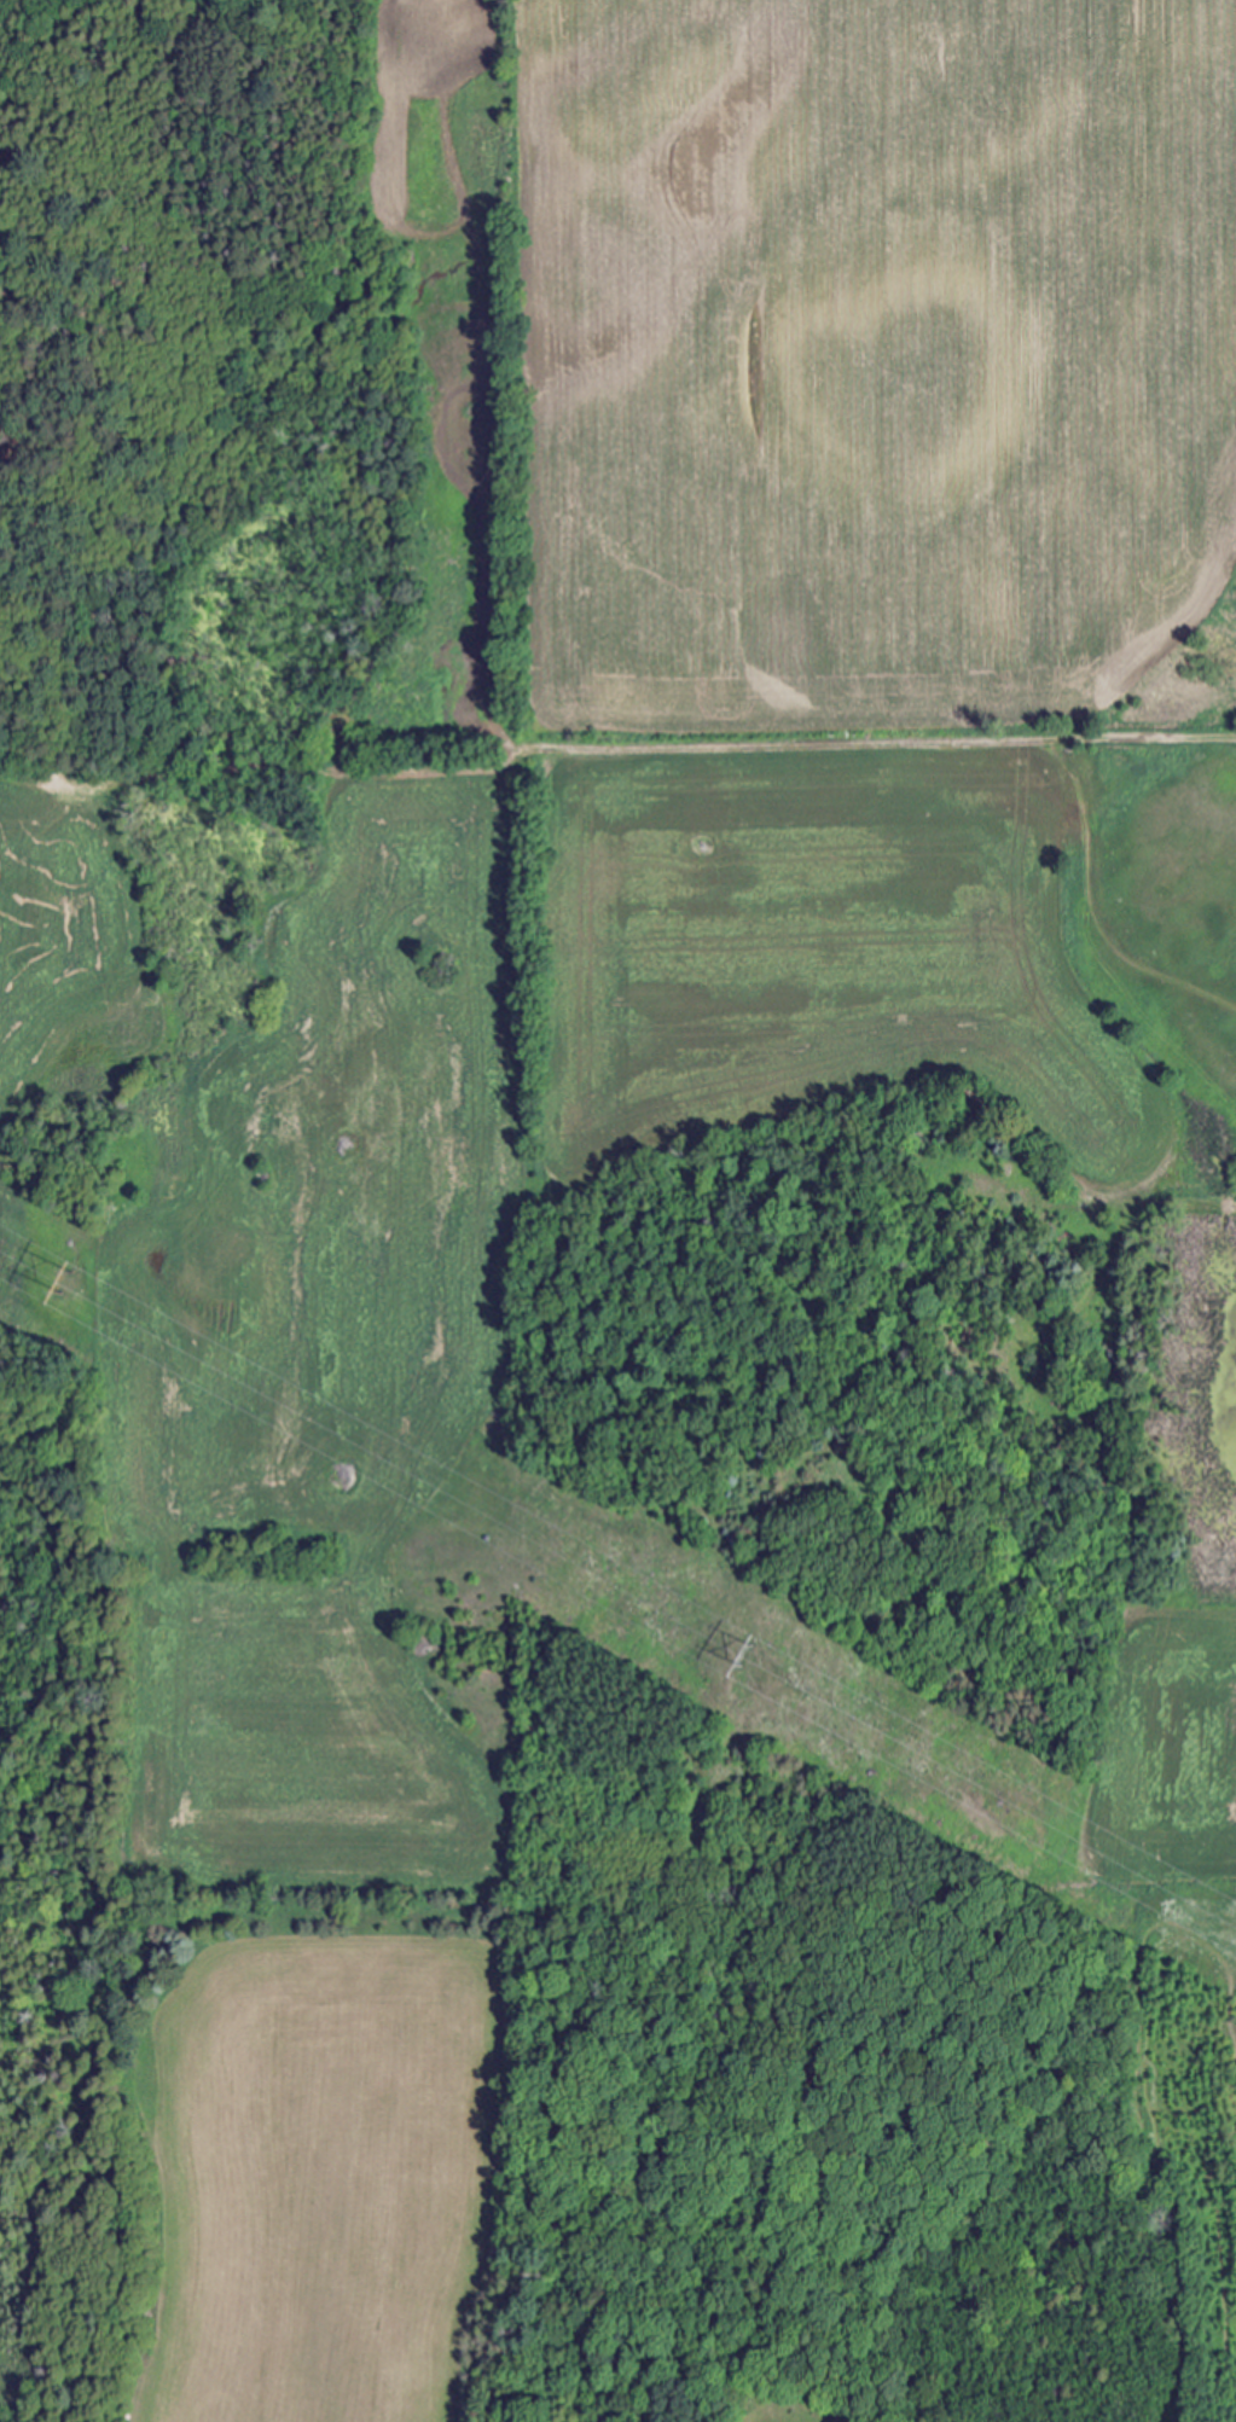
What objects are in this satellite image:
power tower: (69, 1282)
power tower: (743, 1655)

